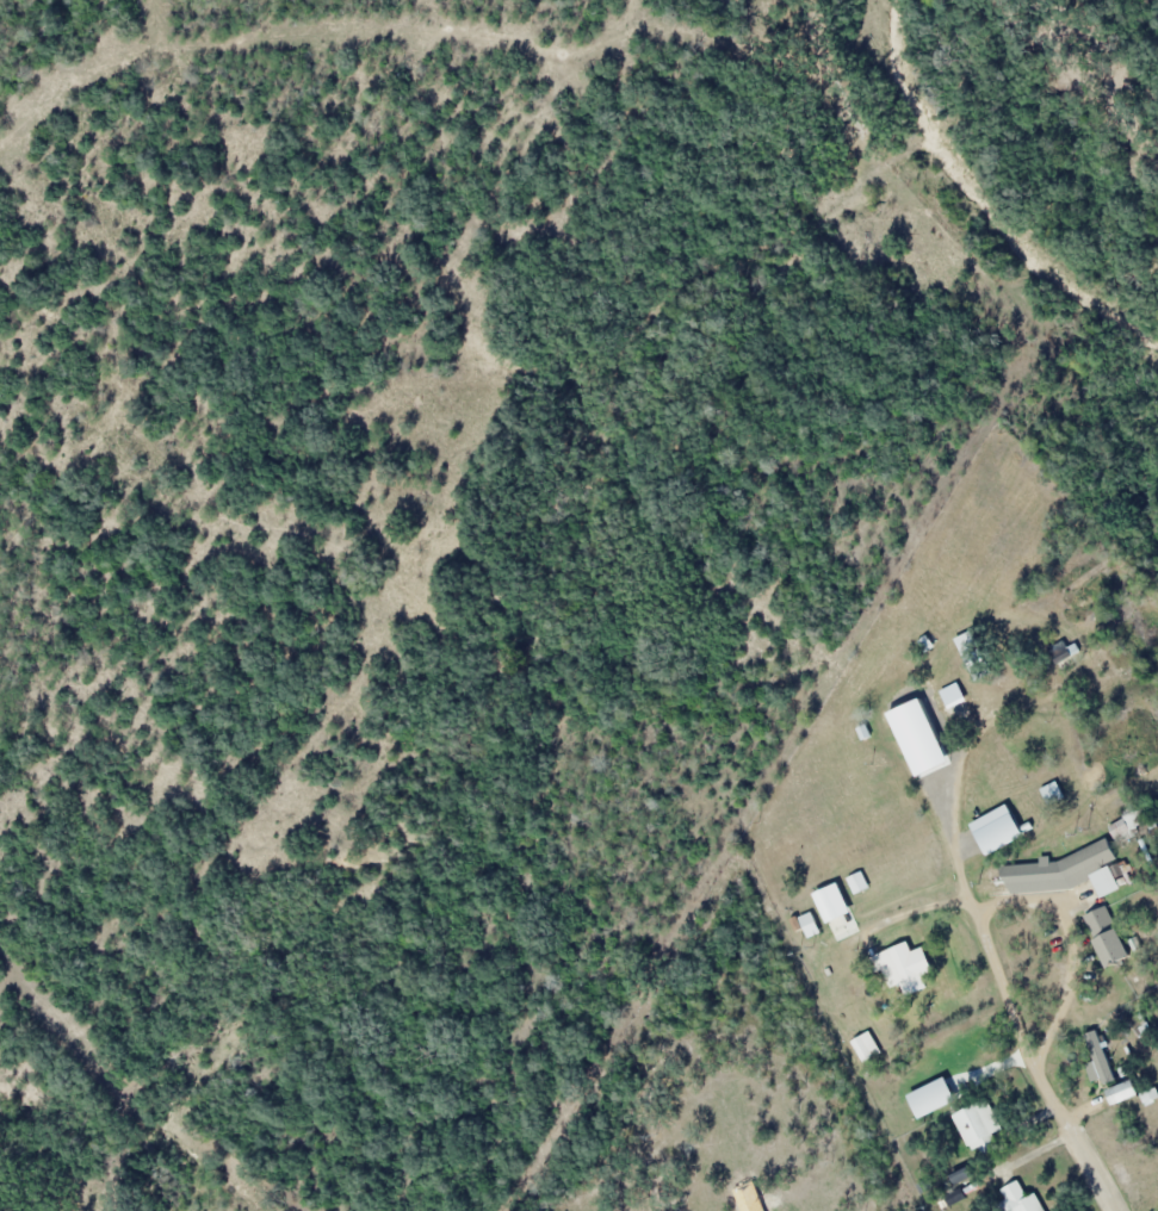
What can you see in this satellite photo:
building: (974, 656)
building: (953, 695)
building: (931, 727)
building: (1052, 793)
building: (1128, 824)
building: (1013, 827)
building: (1088, 859)
building: (1107, 937)
building: (905, 968)
road: (1020, 1012)
building: (1097, 1056)
building: (1125, 1092)
building: (942, 1095)
building: (977, 1125)
building: (1020, 1198)

